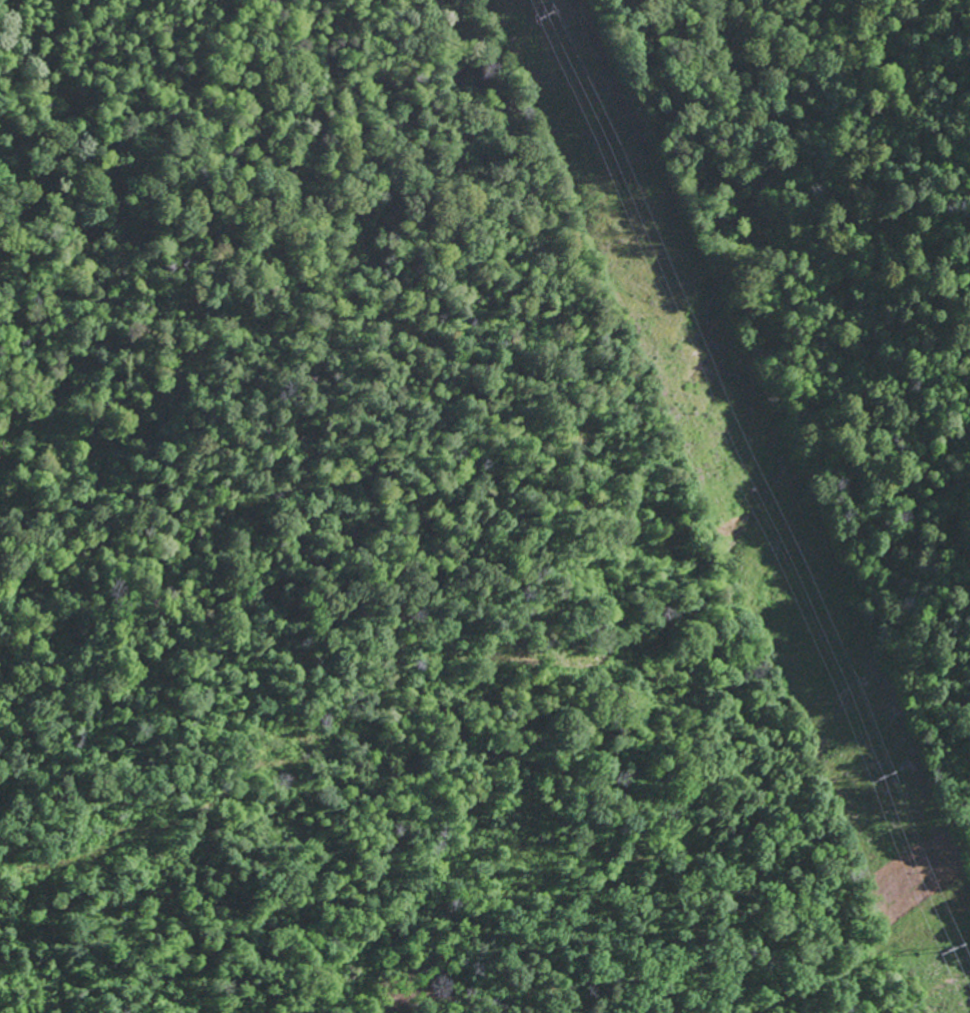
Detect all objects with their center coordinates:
power tower: (951, 948)

